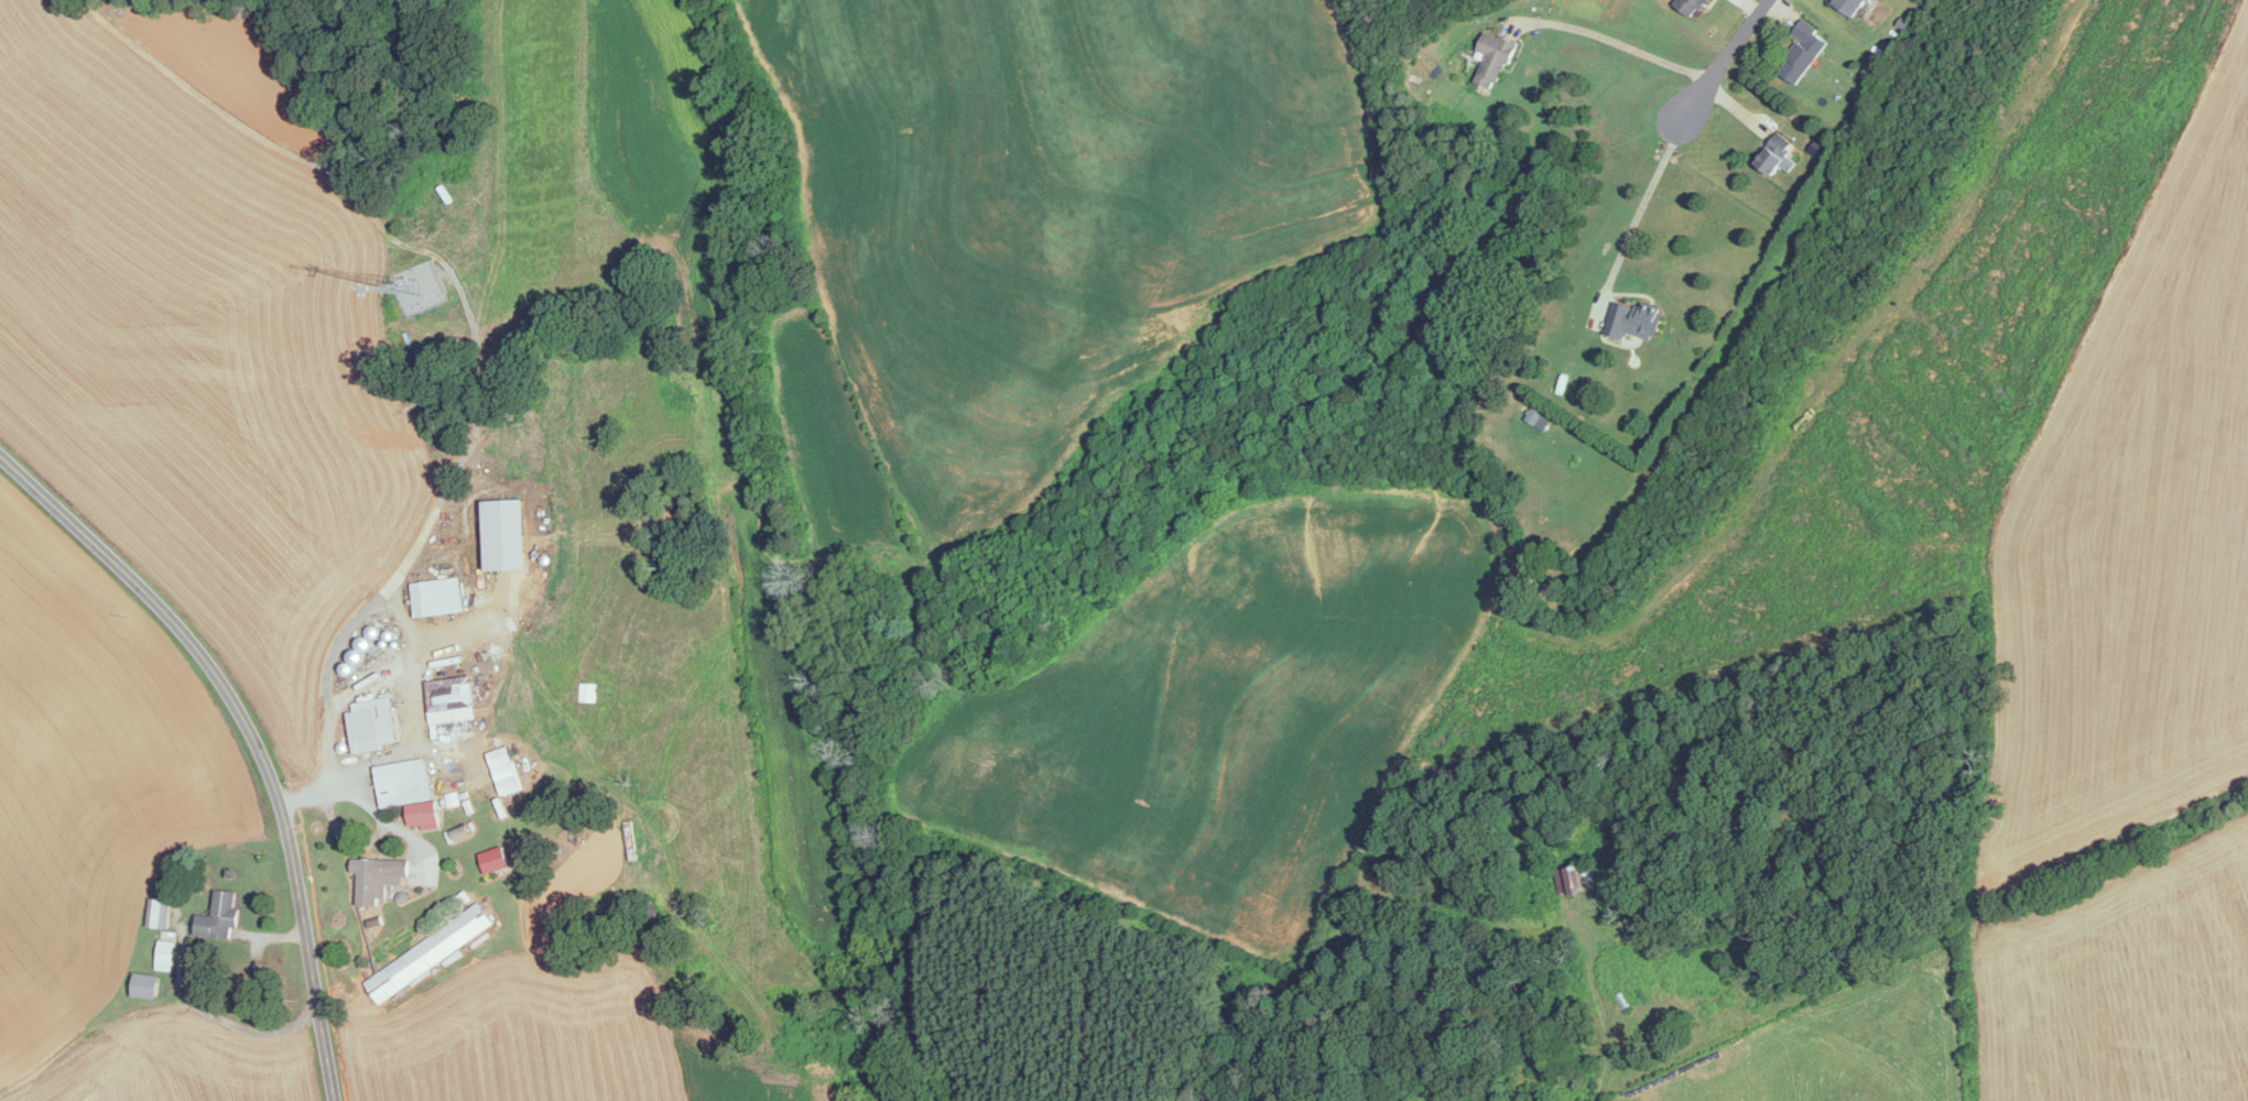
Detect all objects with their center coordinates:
building: (1687, 6)
building: (1847, 7)
building: (1801, 52)
building: (1491, 59)
road: (1622, 61)
road: (1726, 63)
building: (1771, 153)
road: (1636, 222)
building: (1631, 320)
building: (501, 535)
building: (435, 597)
road: (411, 634)
building: (448, 700)
building: (370, 726)
road: (248, 735)
building: (502, 772)
building: (401, 783)
building: (376, 879)
building: (1574, 880)
building: (217, 918)
building: (426, 955)

